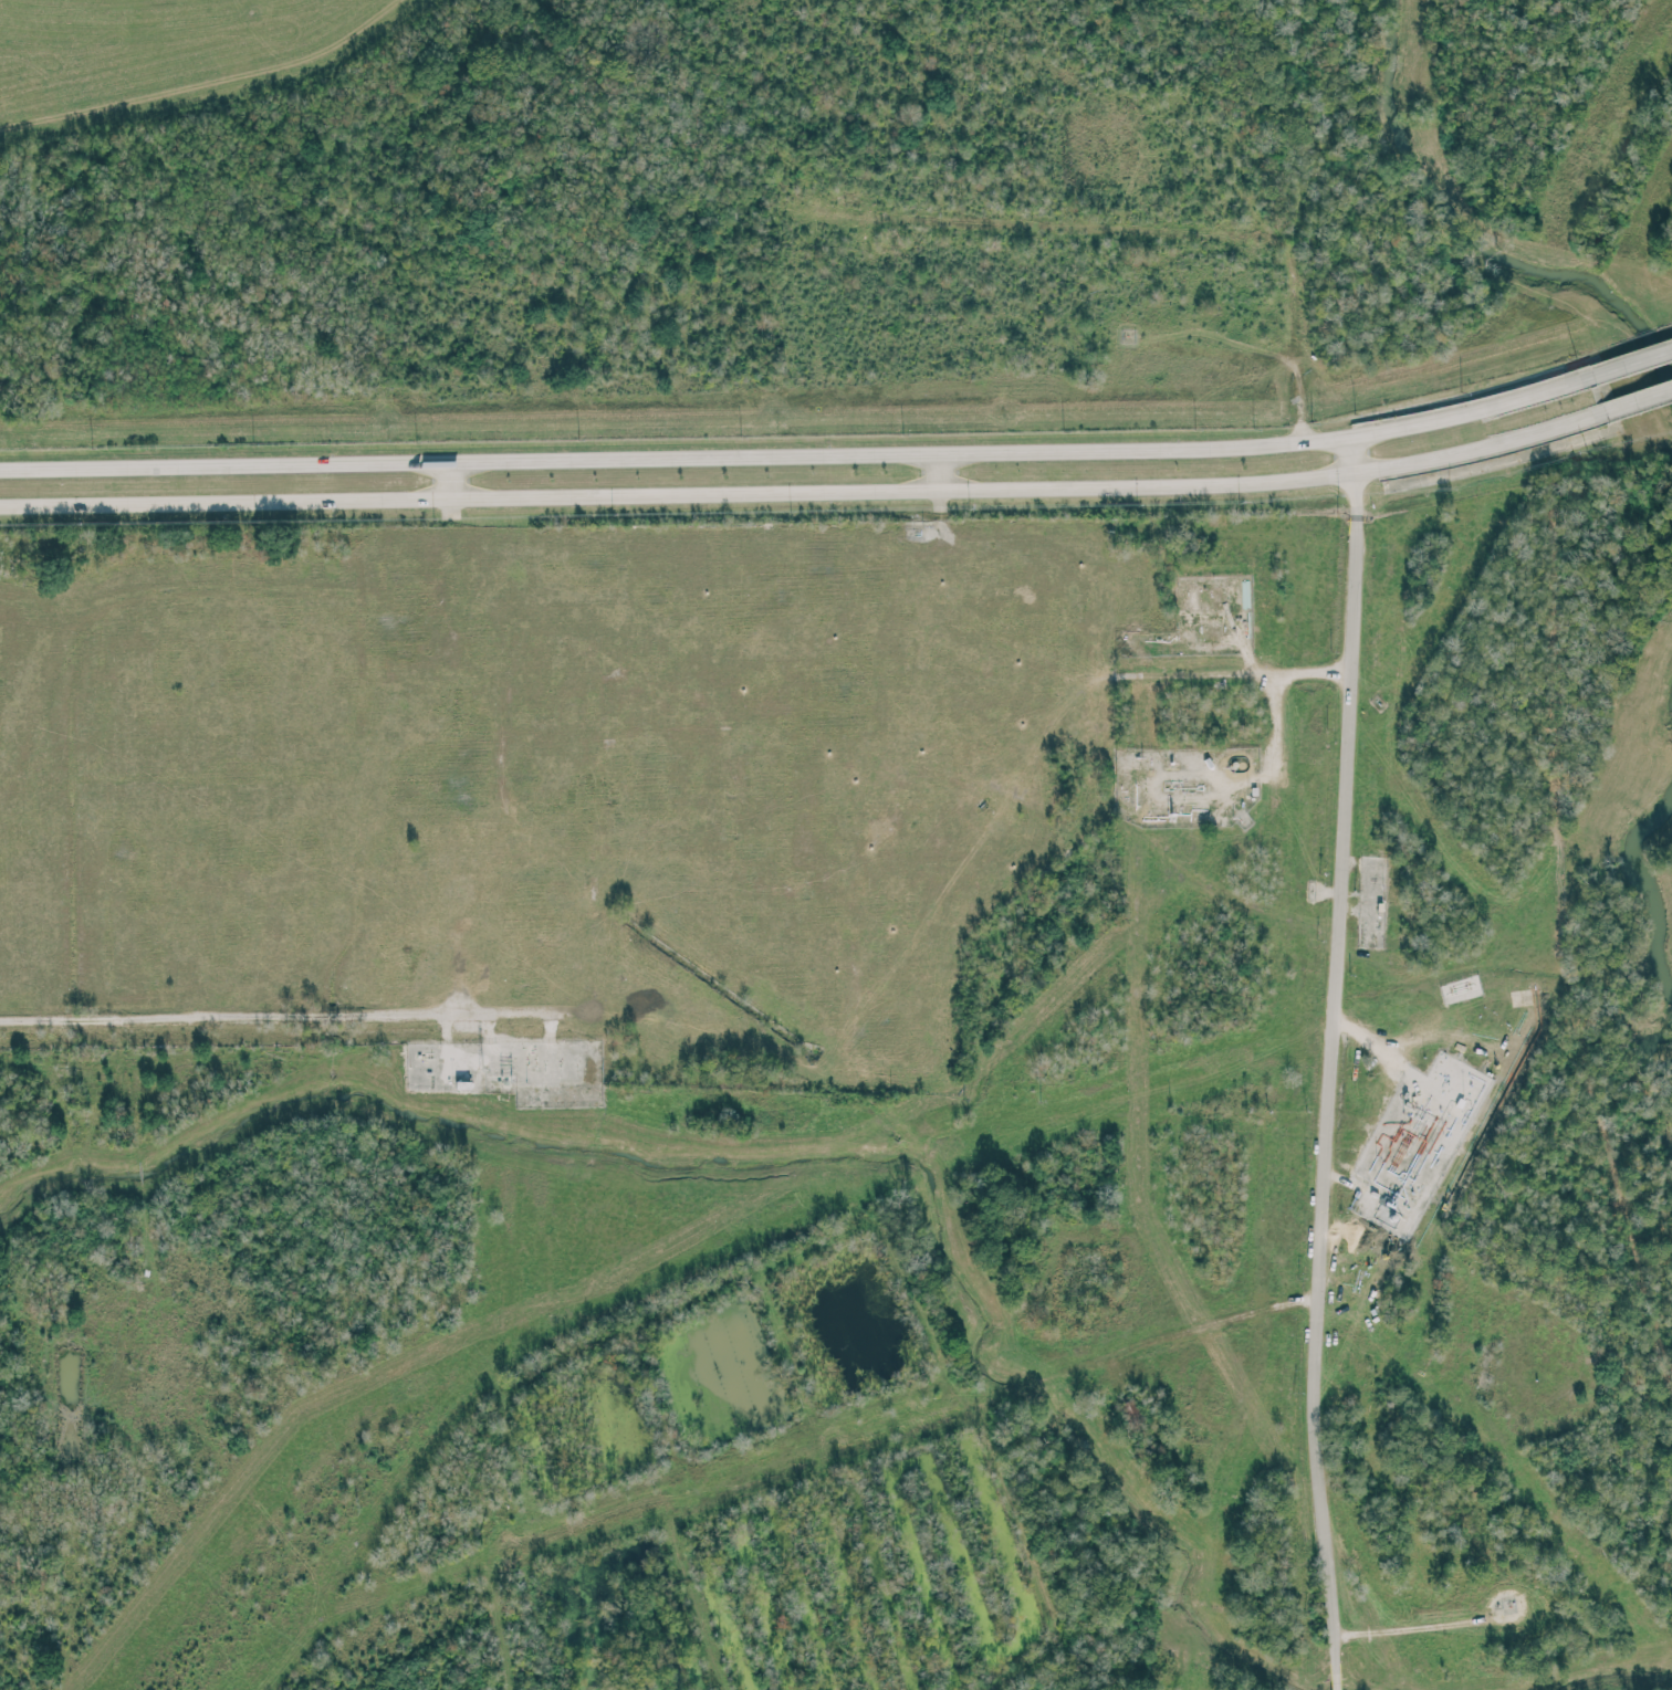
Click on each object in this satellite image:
river: (1482, 241)
road: (1630, 361)
road: (1637, 400)
road: (797, 455)
road: (939, 472)
road: (449, 480)
road: (805, 493)
road: (95, 611)
road: (41, 617)
river: (1649, 892)
road: (296, 1018)
river: (1645, 1057)
road: (1327, 1062)
road: (1215, 1322)

